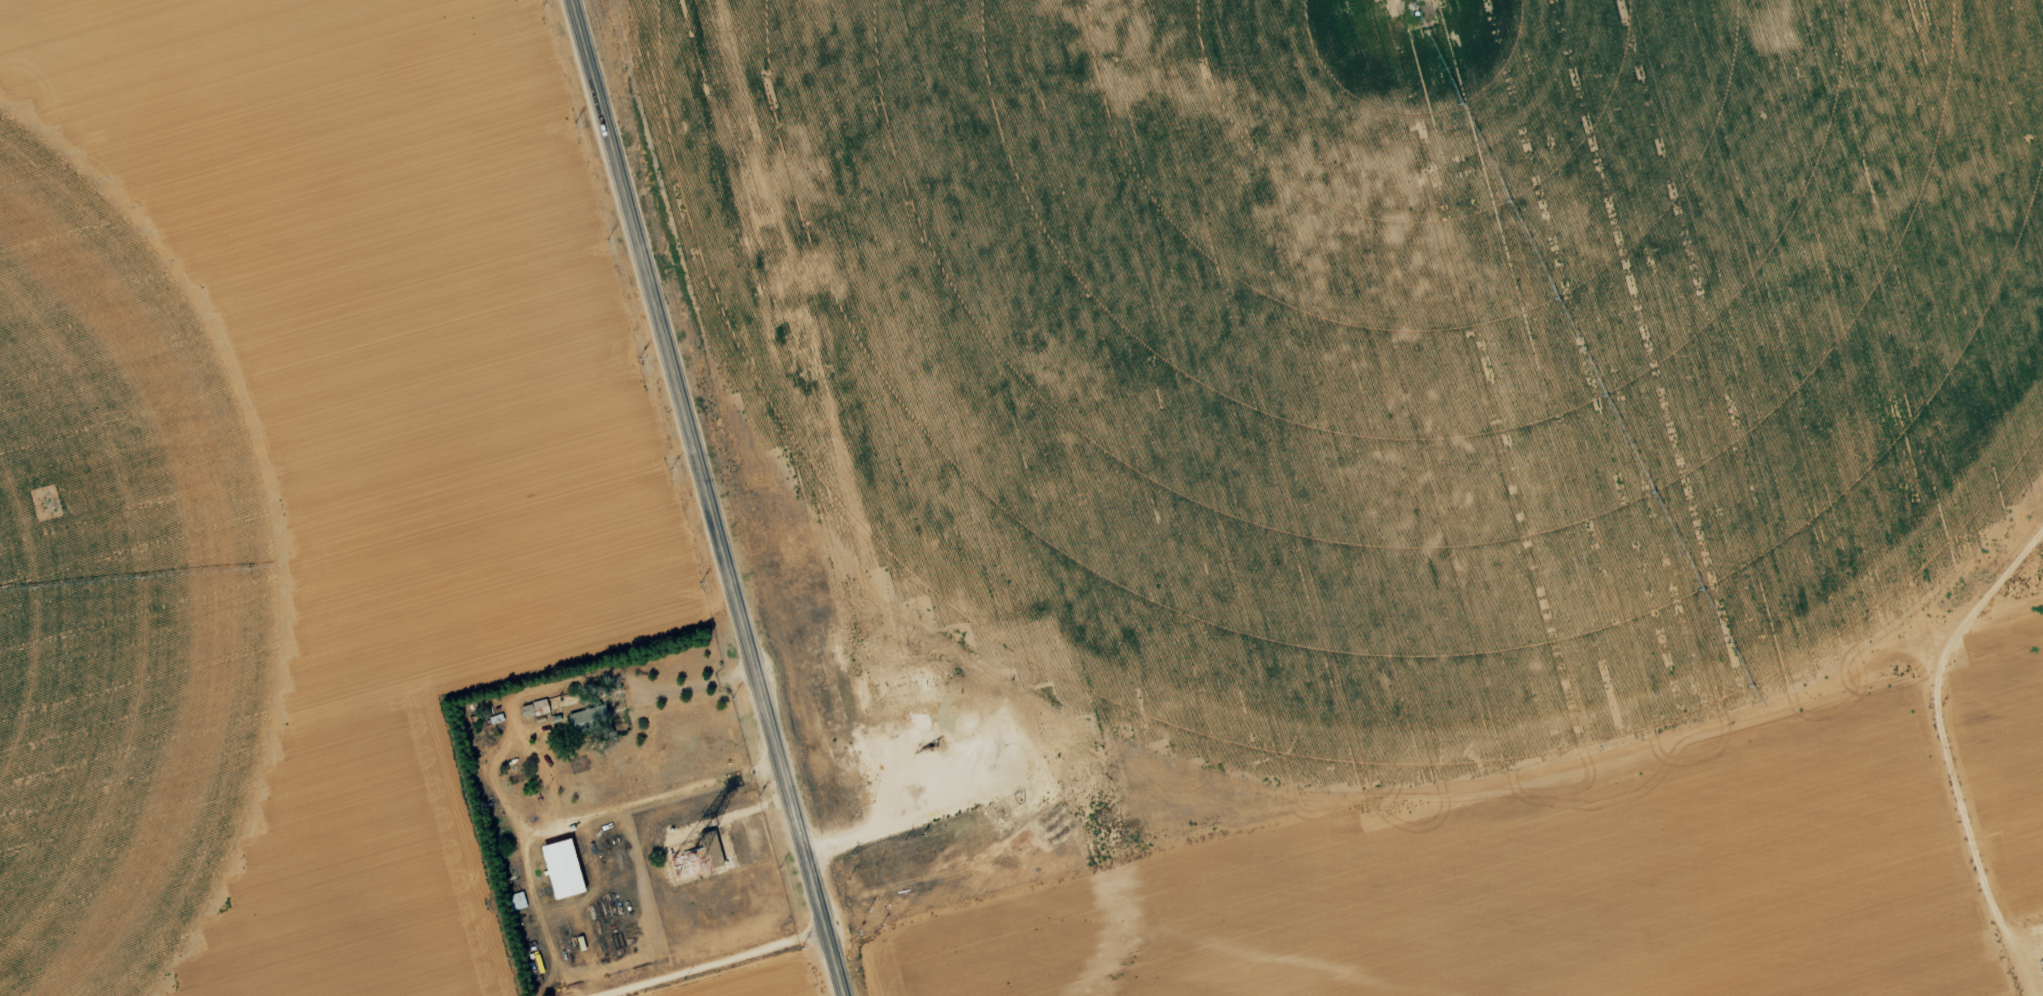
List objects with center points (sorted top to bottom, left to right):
road: (705, 498)
road: (1471, 782)
building: (708, 852)
building: (559, 872)
building: (516, 904)
road: (729, 969)

